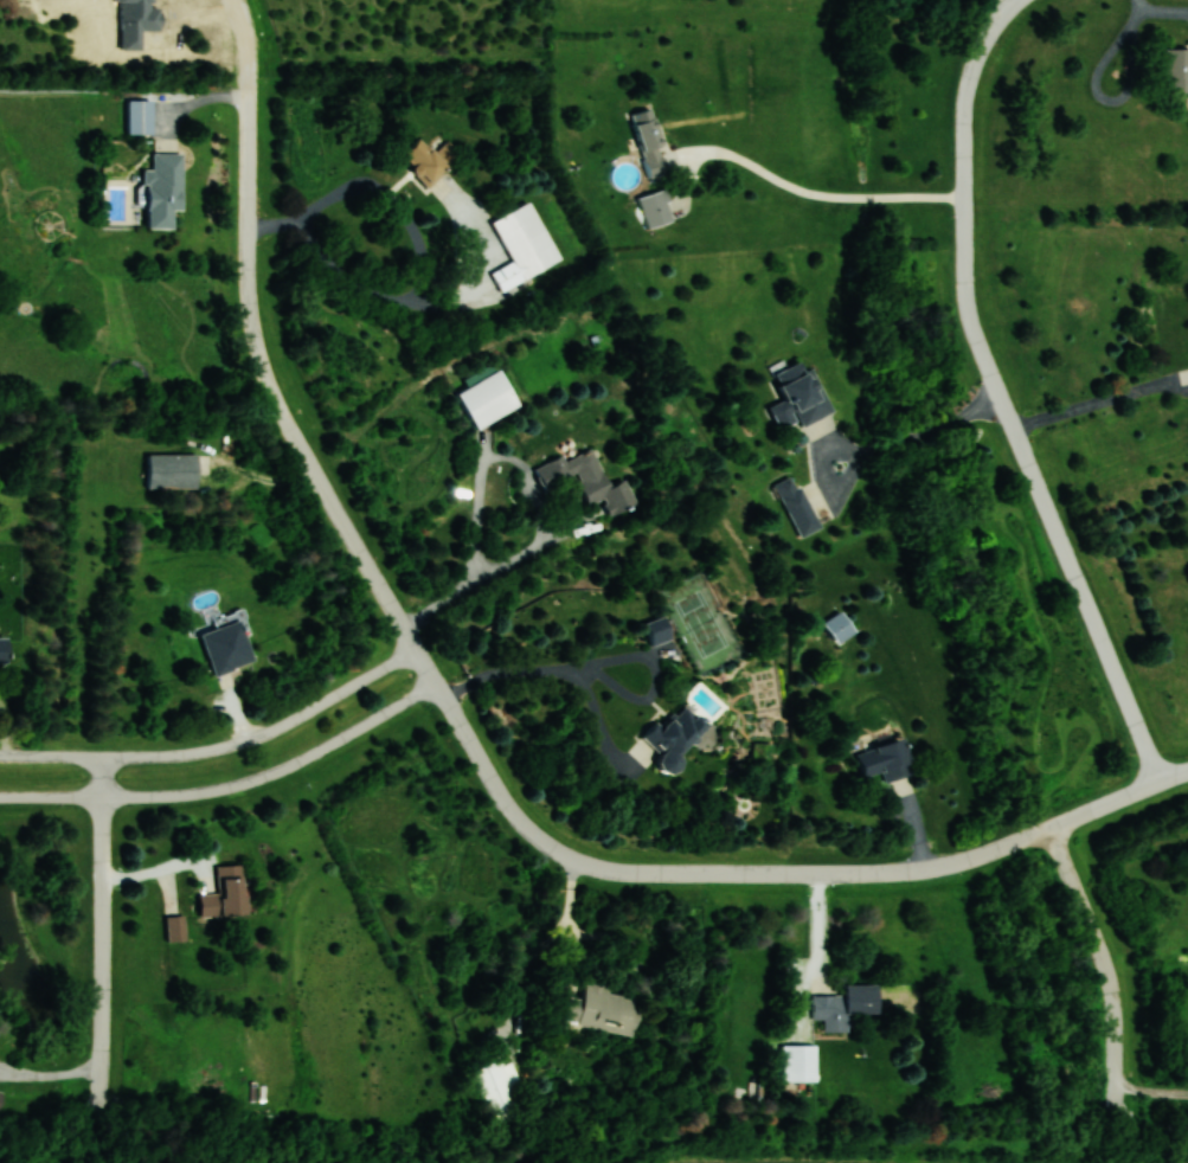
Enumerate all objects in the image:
road: (1002, 6)
road: (246, 40)
building: (1175, 70)
building: (140, 116)
building: (650, 141)
building: (424, 160)
building: (163, 188)
road: (834, 197)
building: (656, 208)
road: (420, 246)
building: (524, 246)
road: (1002, 393)
building: (800, 397)
building: (488, 399)
road: (280, 400)
road: (1100, 401)
road: (873, 451)
building: (172, 470)
building: (586, 480)
road: (538, 501)
building: (797, 506)
building: (839, 627)
building: (659, 630)
building: (226, 648)
building: (4, 650)
road: (603, 662)
road: (5, 730)
building: (675, 739)
road: (221, 751)
building: (886, 760)
road: (232, 790)
road: (165, 870)
road: (775, 873)
building: (225, 894)
road: (103, 924)
building: (175, 929)
road: (1107, 963)
road: (606, 972)
building: (845, 1005)
building: (602, 1008)
building: (800, 1064)
road: (52, 1078)
building: (495, 1090)
building: (1, 1098)

